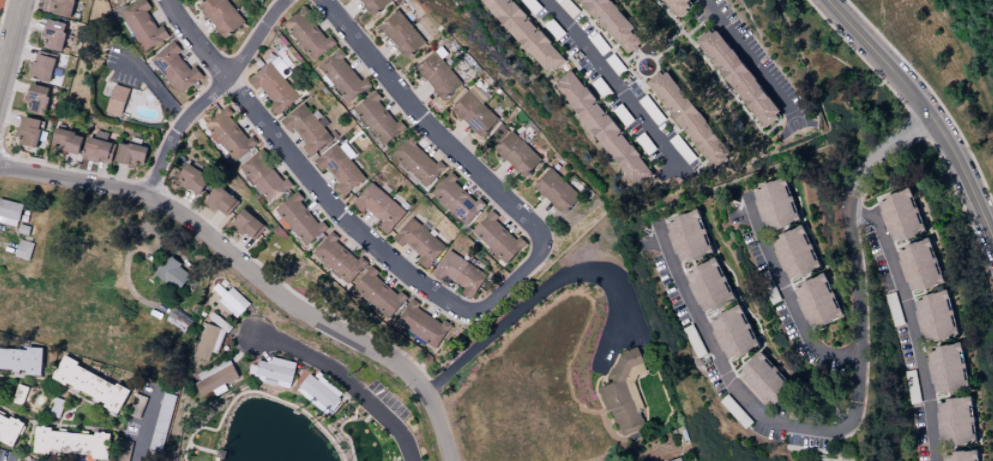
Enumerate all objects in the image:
building: (375, 5)
building: (677, 6)
building: (62, 7)
building: (568, 7)
building: (221, 15)
building: (614, 23)
building: (143, 25)
building: (308, 33)
building: (524, 33)
building: (54, 34)
building: (403, 34)
road: (11, 42)
road: (195, 42)
road: (12, 53)
road: (751, 57)
building: (41, 68)
building: (175, 68)
building: (441, 74)
building: (343, 76)
building: (738, 77)
road: (155, 85)
road: (610, 85)
building: (273, 87)
road: (212, 95)
road: (932, 96)
building: (36, 99)
building: (117, 100)
road: (925, 110)
road: (330, 111)
building: (477, 111)
building: (654, 114)
building: (378, 118)
building: (689, 119)
building: (602, 128)
building: (307, 129)
building: (28, 131)
building: (229, 134)
building: (66, 141)
building: (98, 147)
building: (130, 154)
building: (518, 154)
building: (417, 162)
building: (339, 168)
building: (265, 177)
building: (192, 179)
building: (557, 191)
building: (457, 199)
building: (220, 201)
building: (774, 205)
building: (378, 206)
building: (9, 212)
building: (900, 216)
building: (300, 219)
building: (247, 224)
building: (687, 237)
building: (498, 238)
building: (418, 241)
building: (23, 249)
building: (794, 254)
building: (339, 259)
building: (918, 266)
building: (171, 273)
building: (459, 273)
road: (255, 275)
road: (549, 284)
road: (508, 285)
building: (708, 286)
building: (768, 287)
building: (377, 294)
road: (789, 300)
building: (232, 301)
building: (816, 302)
building: (934, 317)
building: (179, 320)
road: (910, 324)
building: (422, 325)
building: (732, 333)
building: (209, 341)
building: (20, 359)
building: (946, 369)
building: (273, 372)
building: (219, 376)
building: (763, 380)
building: (90, 384)
road: (346, 384)
building: (624, 391)
building: (319, 393)
building: (912, 393)
road: (274, 397)
building: (137, 403)
building: (165, 406)
road: (854, 406)
building: (954, 421)
road: (144, 426)
building: (9, 428)
building: (71, 443)
building: (123, 451)
building: (959, 456)
building: (677, 459)

